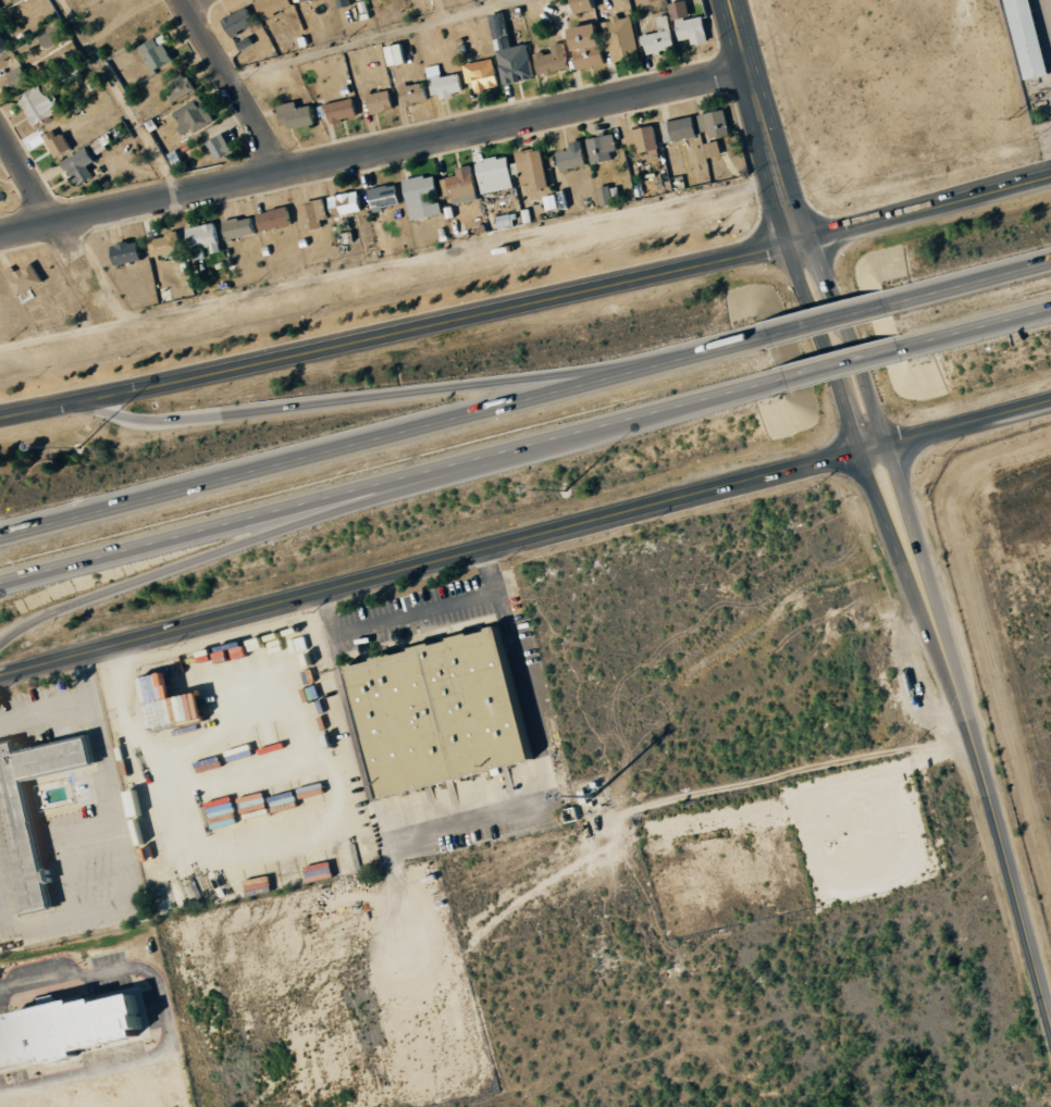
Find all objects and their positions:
building: (299, 0)
road: (190, 2)
building: (346, 2)
building: (589, 4)
building: (274, 5)
building: (240, 21)
building: (691, 24)
building: (53, 37)
road: (372, 37)
building: (661, 37)
building: (1021, 38)
building: (622, 42)
building: (3, 43)
building: (591, 45)
building: (159, 52)
building: (399, 53)
building: (512, 55)
building: (554, 60)
building: (73, 73)
building: (483, 74)
building: (21, 77)
building: (445, 83)
road: (235, 85)
building: (180, 88)
building: (416, 94)
building: (382, 101)
building: (41, 103)
building: (343, 110)
building: (299, 114)
building: (195, 115)
power tower: (1013, 117)
road: (764, 121)
building: (716, 123)
building: (681, 128)
building: (645, 140)
building: (60, 144)
building: (222, 146)
building: (604, 148)
building: (715, 149)
road: (374, 152)
building: (576, 156)
building: (82, 165)
building: (533, 169)
building: (497, 174)
building: (461, 183)
building: (610, 195)
building: (386, 197)
building: (425, 197)
building: (348, 202)
building: (314, 214)
building: (276, 219)
building: (507, 221)
building: (242, 227)
road: (61, 231)
building: (207, 236)
building: (168, 244)
building: (129, 251)
road: (994, 275)
building: (29, 278)
road: (567, 294)
road: (1002, 319)
road: (820, 321)
road: (846, 339)
road: (821, 347)
road: (840, 361)
road: (391, 393)
road: (719, 393)
road: (40, 410)
road: (967, 423)
road: (350, 444)
road: (870, 448)
road: (356, 487)
road: (350, 505)
road: (914, 538)
road: (892, 544)
road: (429, 563)
road: (412, 614)
building: (176, 704)
building: (433, 712)
road: (46, 714)
road: (539, 747)
road: (993, 837)
building: (29, 844)
road: (126, 855)
building: (73, 1032)

